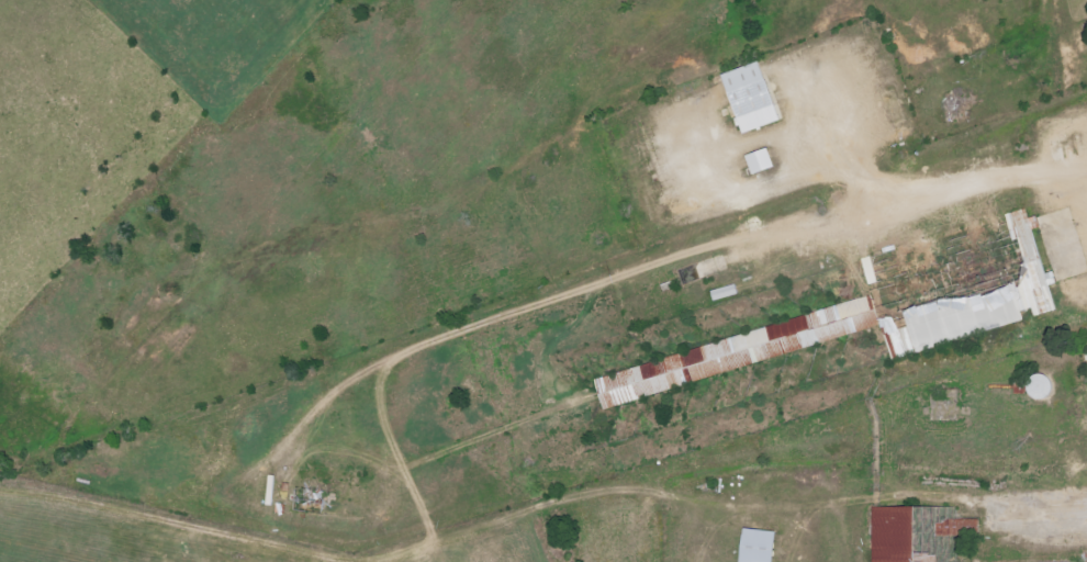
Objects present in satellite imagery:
building: (751, 87)
building: (765, 160)
building: (885, 306)
road: (876, 427)
building: (330, 492)
road: (515, 519)
road: (1015, 519)
road: (853, 526)
road: (797, 532)
building: (922, 532)
building: (760, 544)
road: (383, 560)

